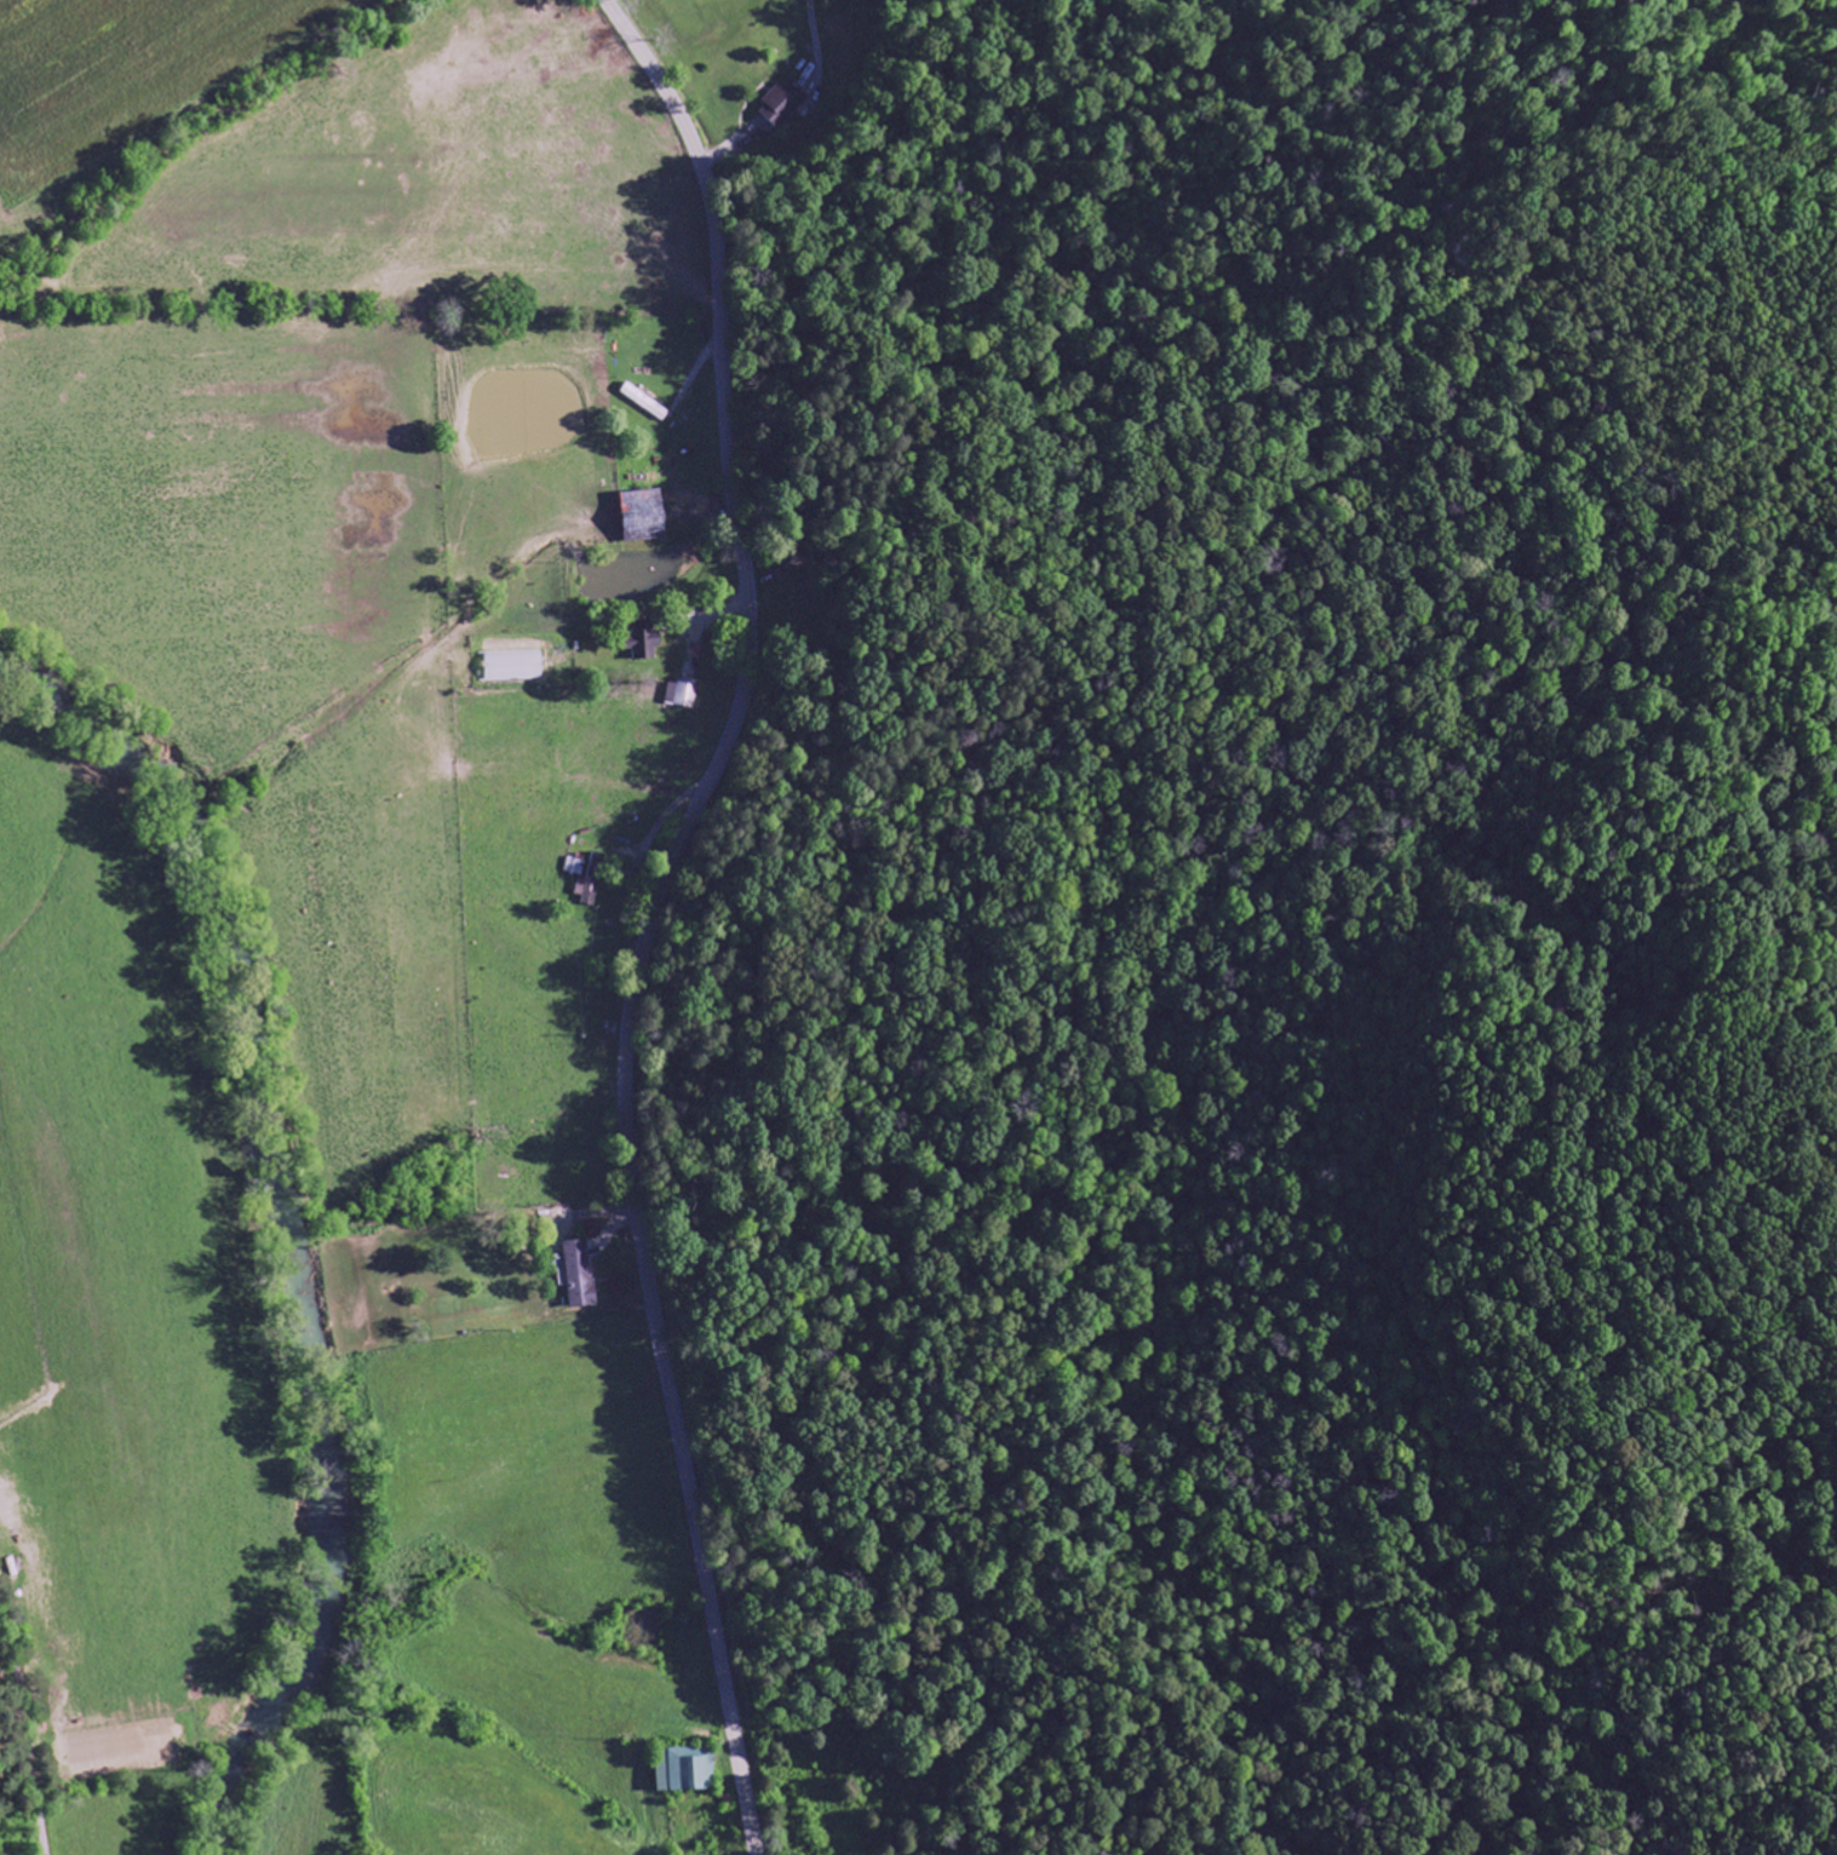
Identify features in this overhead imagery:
building: (783, 104)
building: (647, 515)
building: (647, 645)
building: (682, 693)
building: (575, 867)
building: (592, 881)
road: (655, 912)
building: (580, 1274)
road: (31, 1730)

